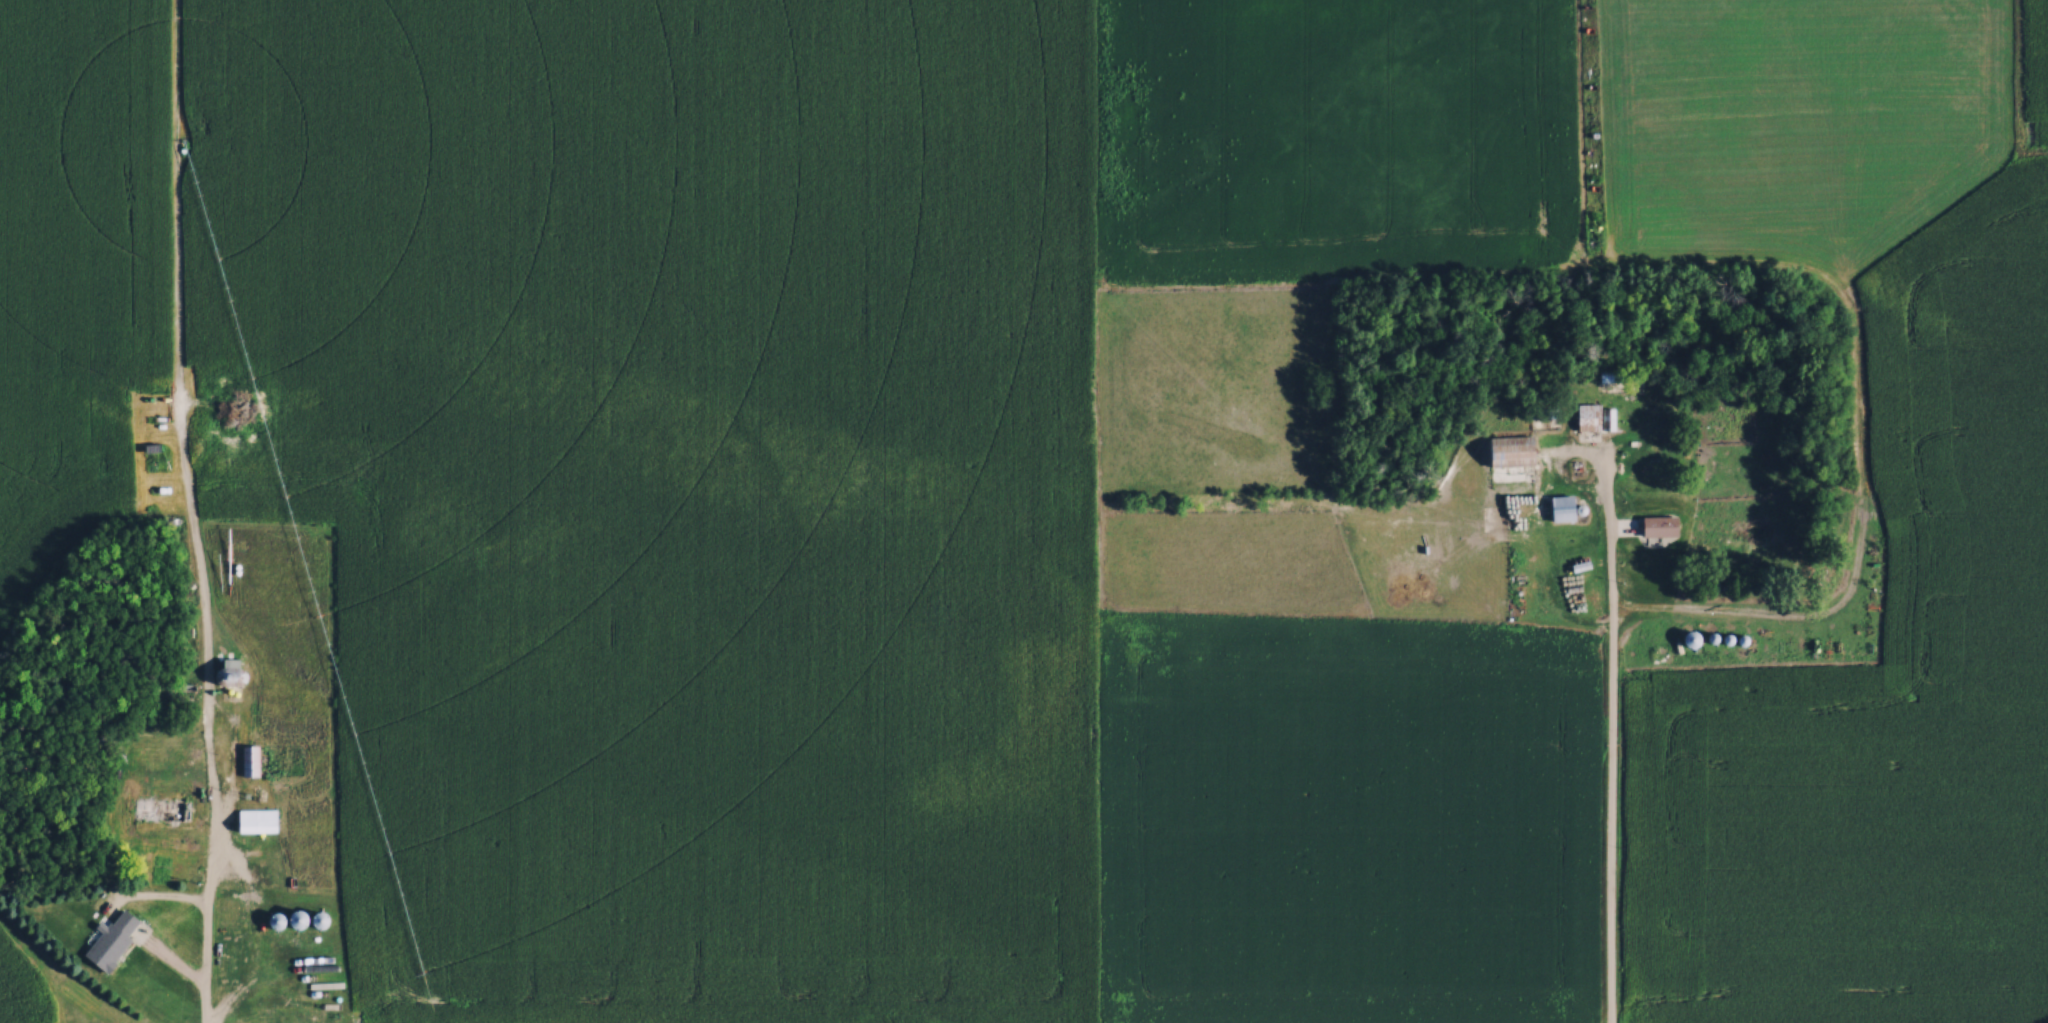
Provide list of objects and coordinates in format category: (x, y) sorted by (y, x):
building: (1590, 417)
building: (1506, 450)
building: (1559, 508)
building: (1656, 525)
building: (1577, 566)
building: (283, 699)
road: (1611, 740)
building: (249, 760)
building: (302, 771)
building: (163, 809)
building: (255, 820)
building: (364, 823)
road: (207, 824)
building: (112, 939)

